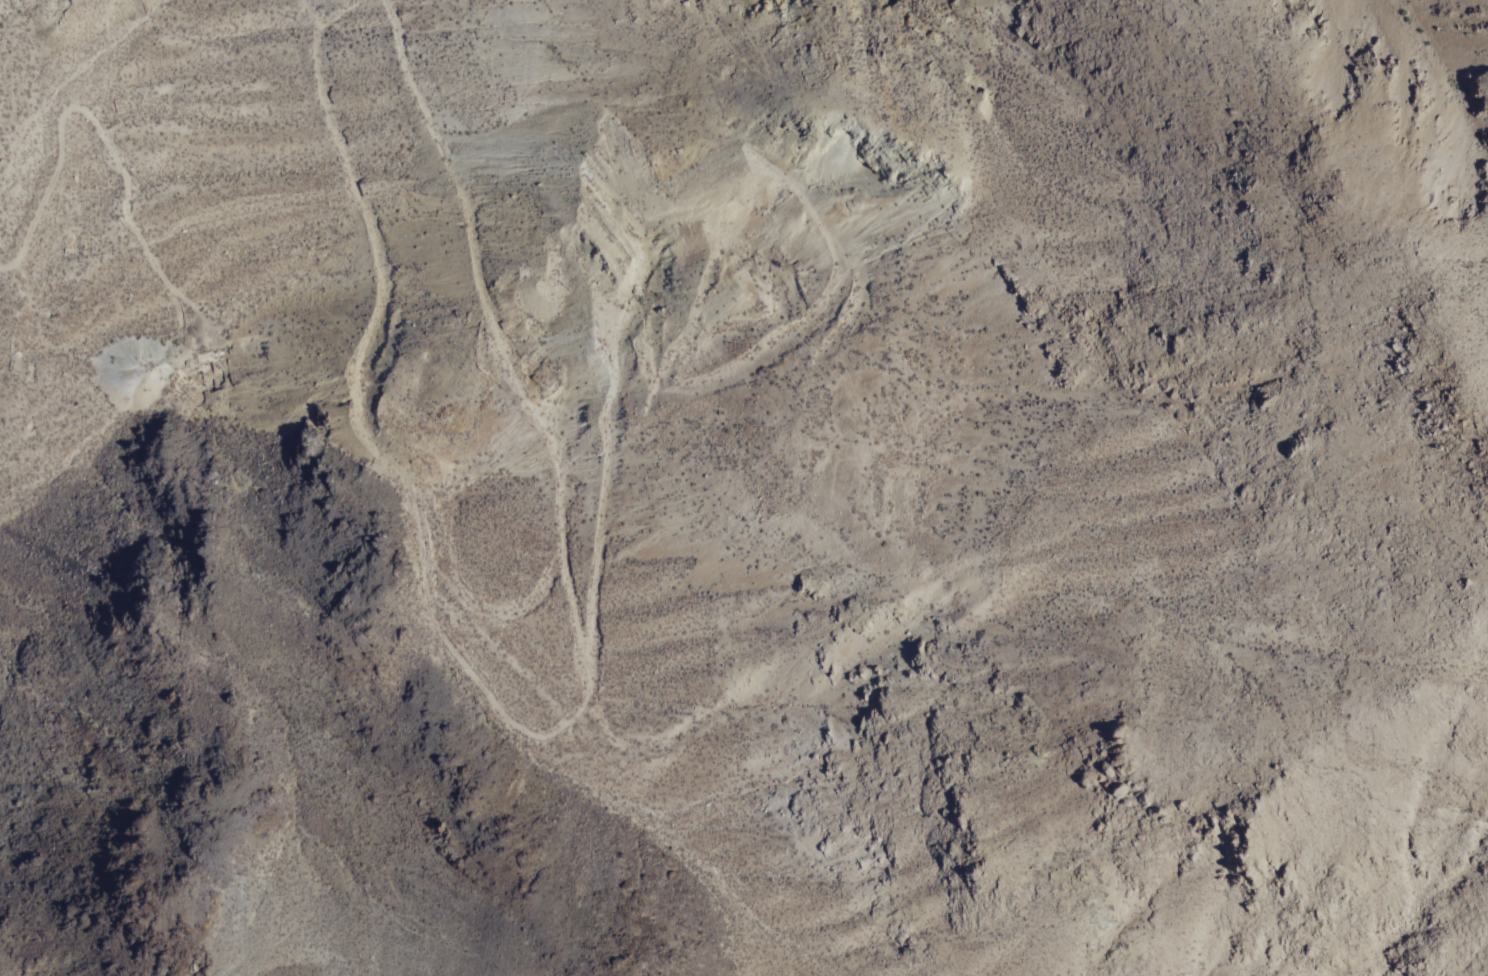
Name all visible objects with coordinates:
road: (93, 120)
road: (363, 211)
road: (561, 556)

